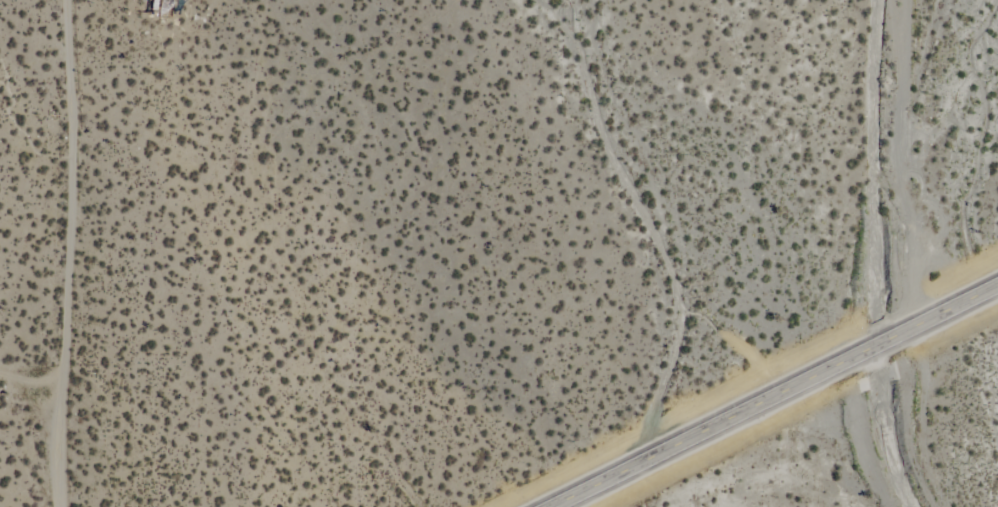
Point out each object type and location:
road: (921, 161)
road: (71, 253)
road: (772, 394)

